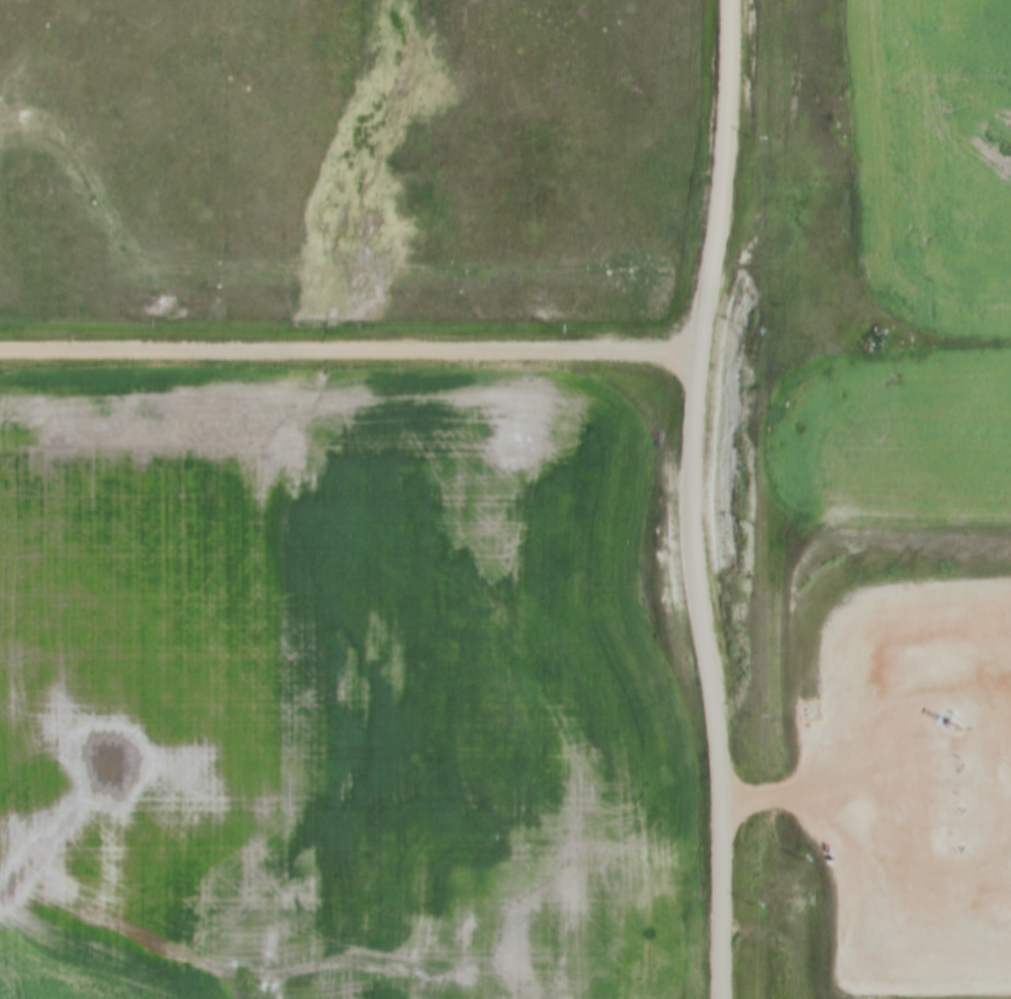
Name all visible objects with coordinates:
road: (351, 344)
road: (669, 500)
petroleum well: (944, 712)
road: (778, 798)
building: (907, 949)
storage tank: (907, 949)
building: (932, 949)
storage tank: (932, 949)
building: (943, 949)
storage tank: (943, 949)
building: (954, 949)
storage tank: (954, 949)
building: (920, 950)
storage tank: (920, 950)
building: (895, 951)
storage tank: (895, 951)

